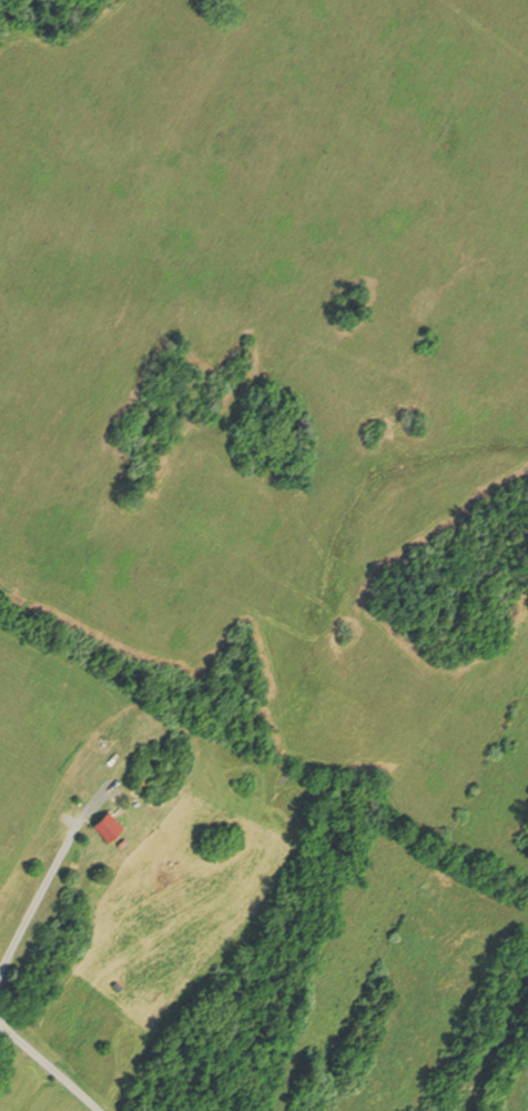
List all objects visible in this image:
road: (47, 889)
road: (383, 993)
road: (51, 1067)

